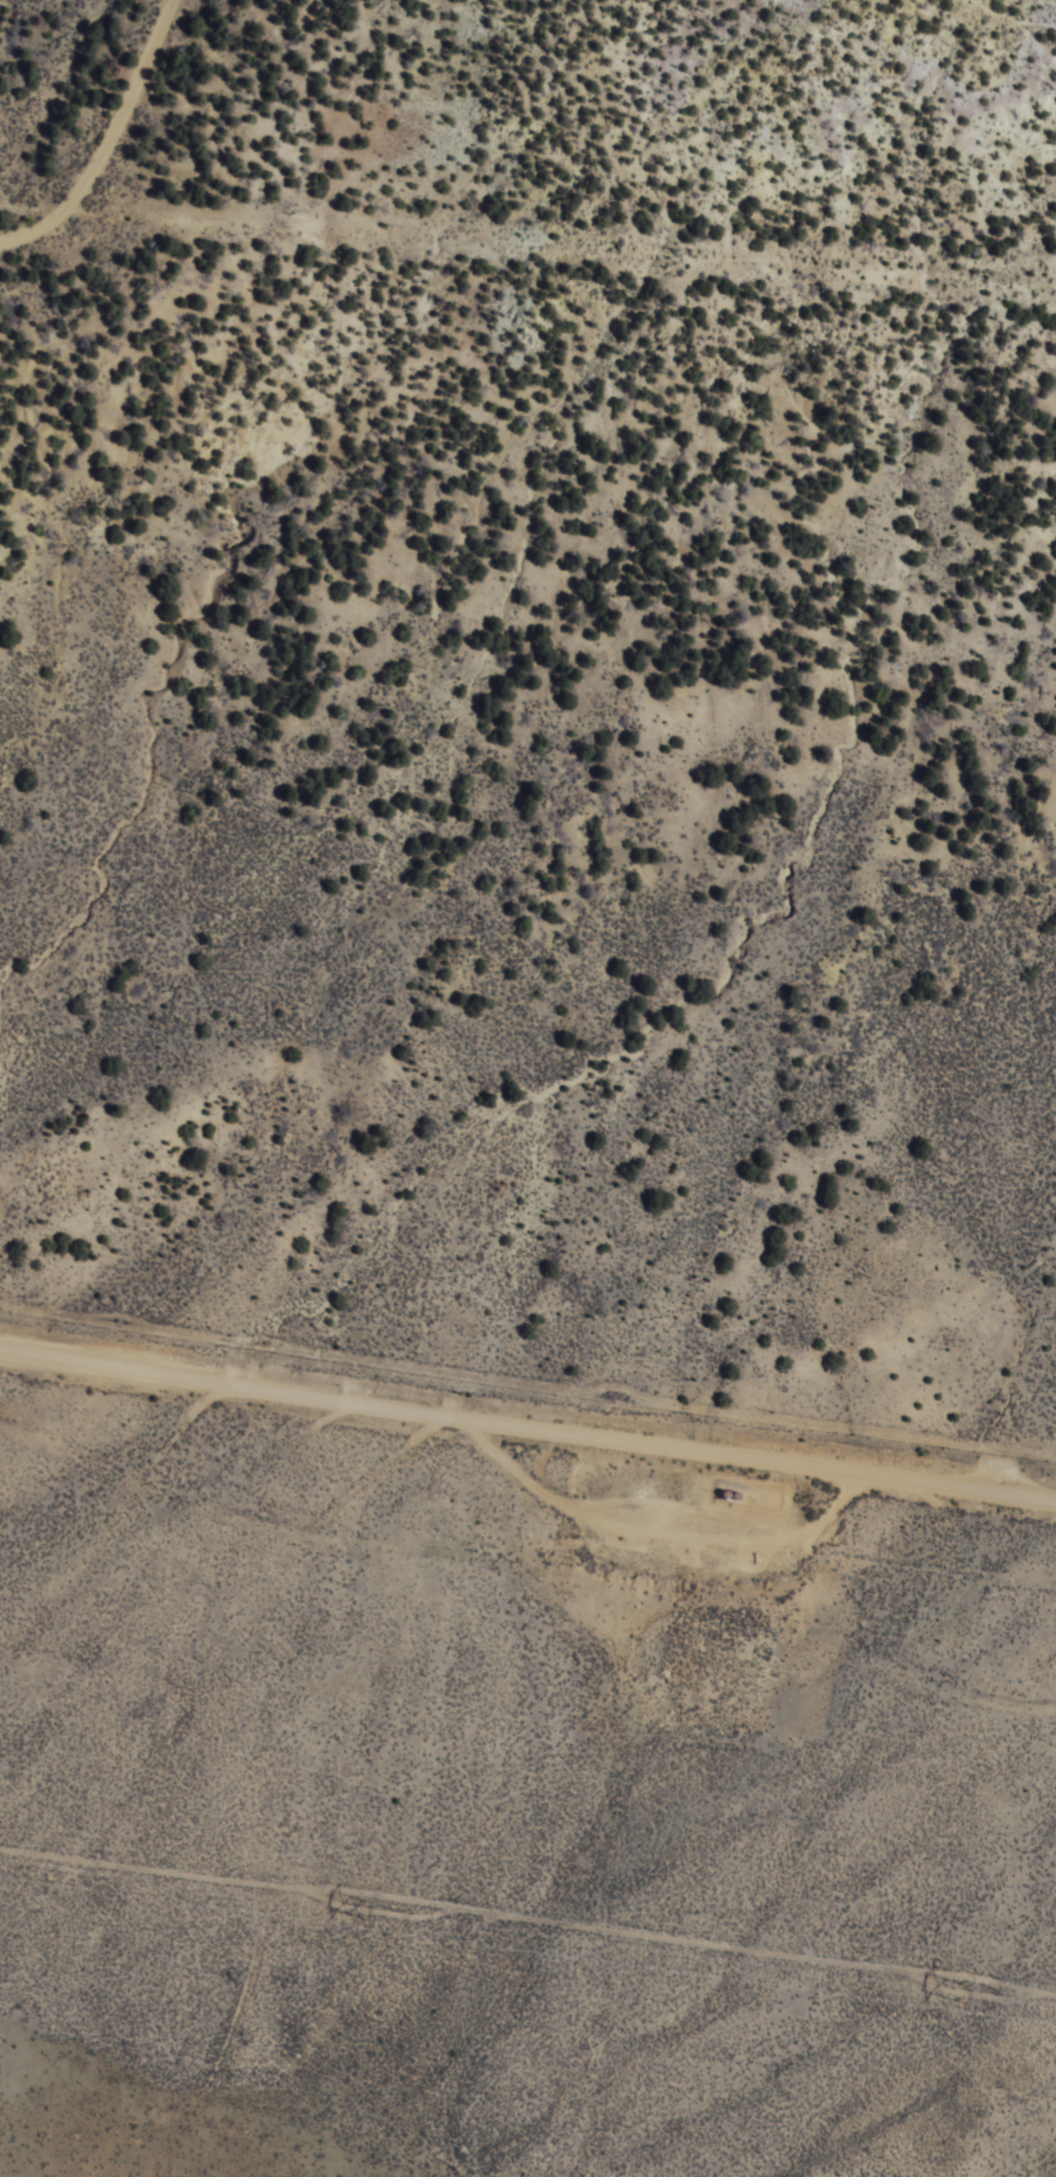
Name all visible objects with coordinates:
road: (137, 172)
road: (526, 1428)
power tower: (375, 1907)
power tower: (966, 1992)

